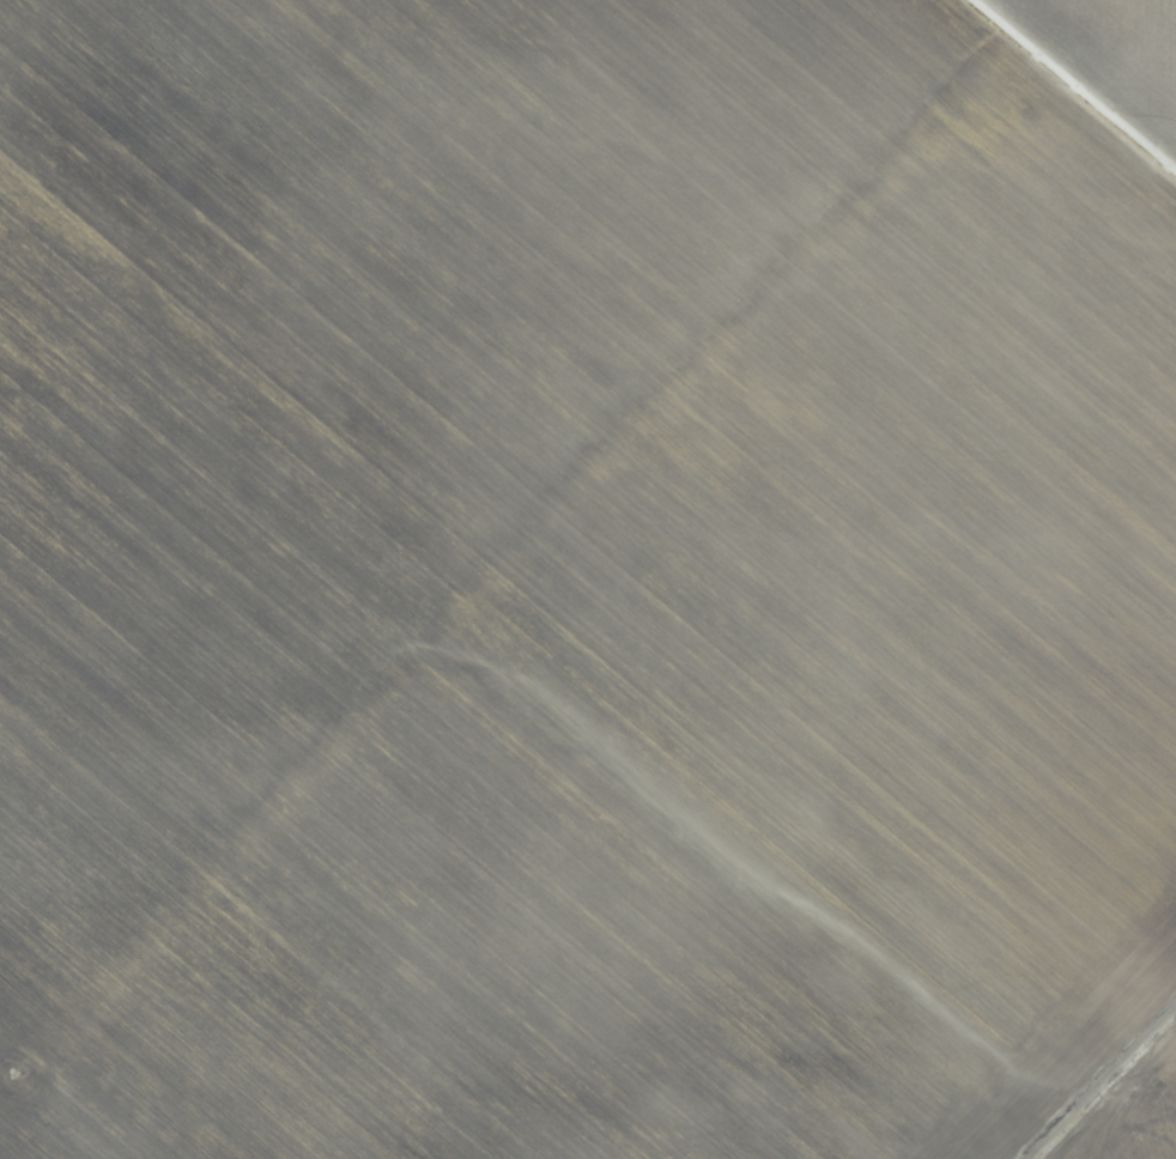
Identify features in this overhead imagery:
road: (568, 511)

